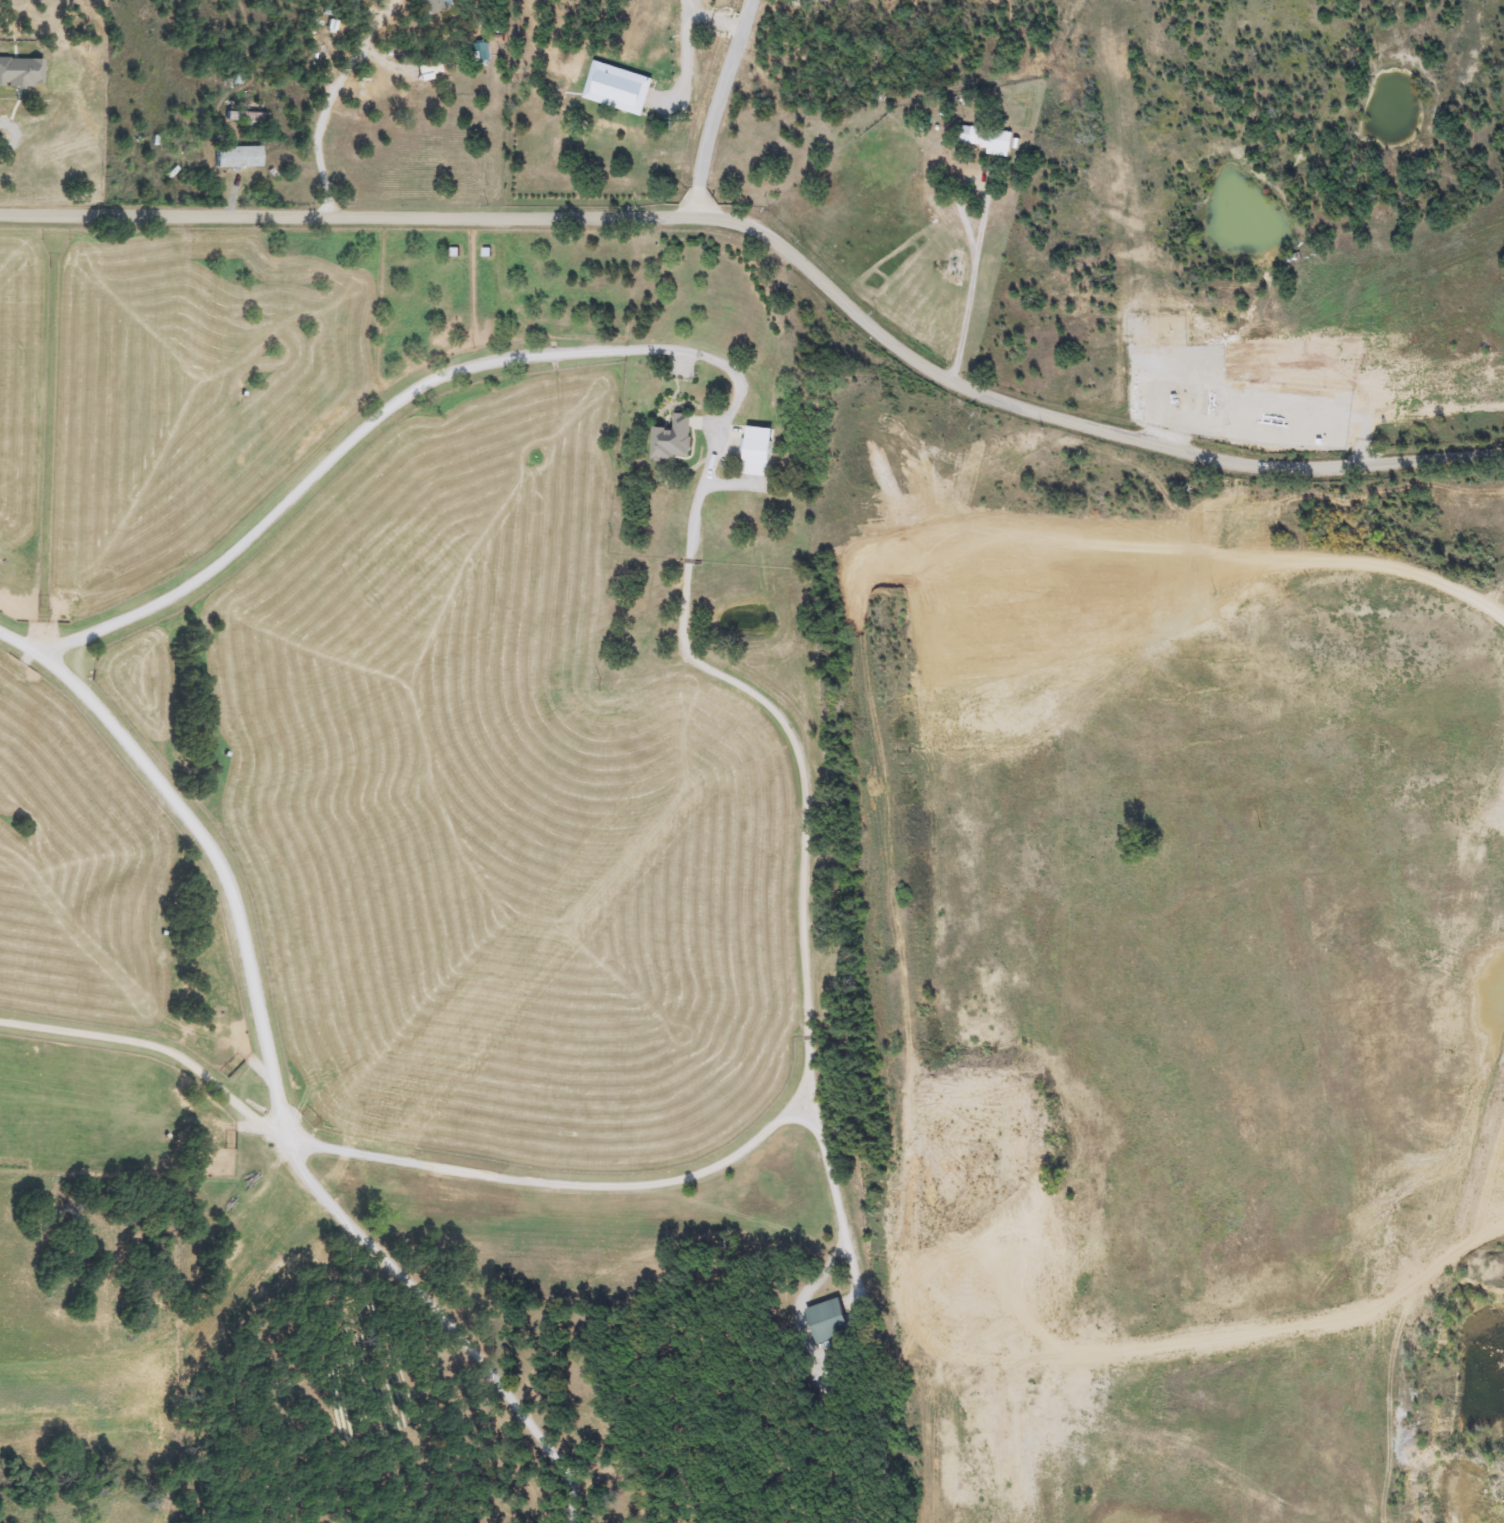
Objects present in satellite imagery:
building: (429, 6)
road: (686, 46)
building: (479, 54)
building: (427, 69)
road: (711, 110)
building: (243, 118)
road: (318, 131)
building: (983, 138)
building: (235, 157)
road: (979, 243)
road: (775, 251)
building: (1263, 366)
building: (1336, 378)
road: (367, 419)
building: (669, 439)
building: (754, 457)
building: (750, 508)
road: (790, 741)
road: (154, 1044)
road: (275, 1100)
road: (655, 1180)
building: (824, 1320)

